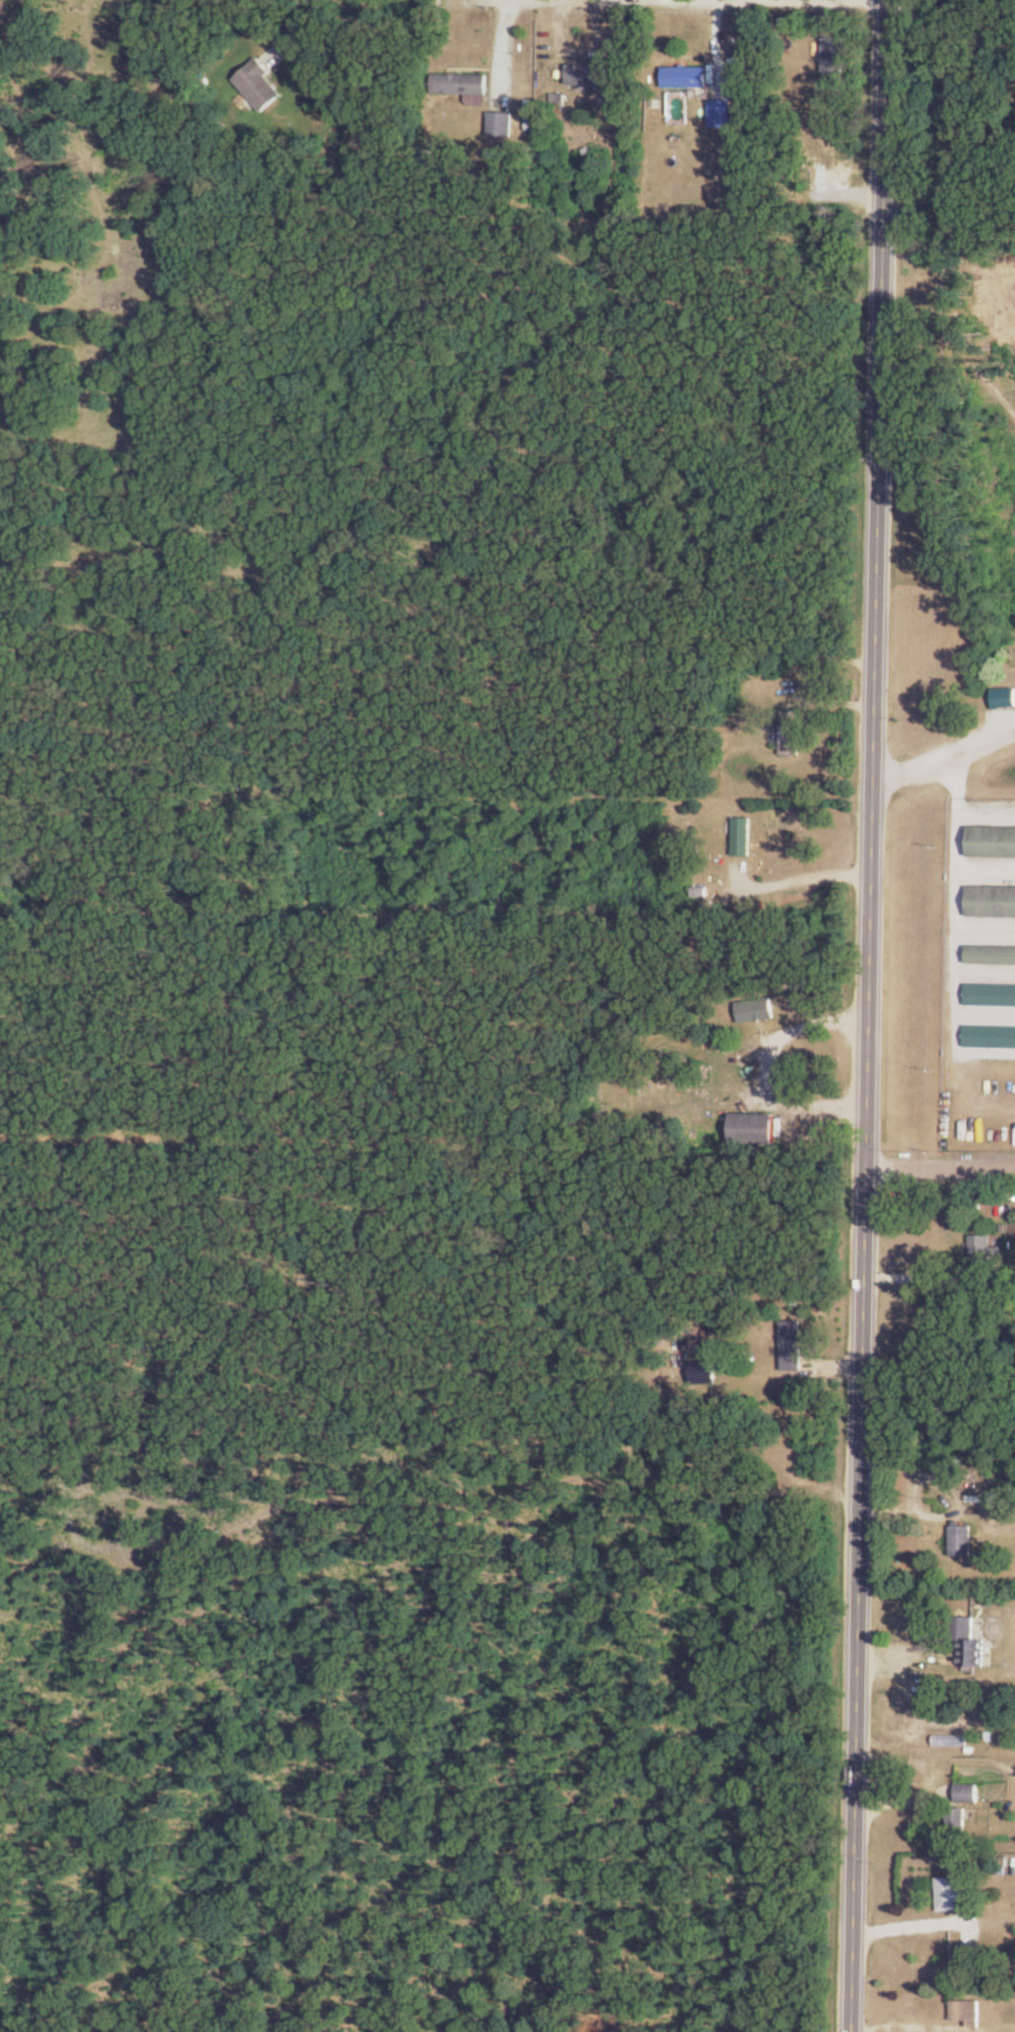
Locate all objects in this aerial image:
road: (670, 0)
road: (300, 3)
building: (834, 54)
building: (588, 74)
building: (686, 77)
building: (259, 83)
building: (461, 83)
building: (501, 124)
road: (950, 314)
building: (1004, 697)
building: (790, 731)
road: (988, 738)
road: (928, 758)
building: (744, 835)
building: (992, 841)
road: (808, 865)
road: (961, 869)
building: (992, 901)
building: (991, 954)
building: (757, 1009)
road: (872, 1016)
road: (769, 1066)
building: (754, 1128)
road: (942, 1166)
building: (985, 1248)
building: (989, 1273)
building: (794, 1345)
building: (962, 1541)
building: (969, 1641)
building: (969, 1793)
building: (959, 1819)
building: (949, 1894)
road: (913, 1917)
building: (966, 2012)

